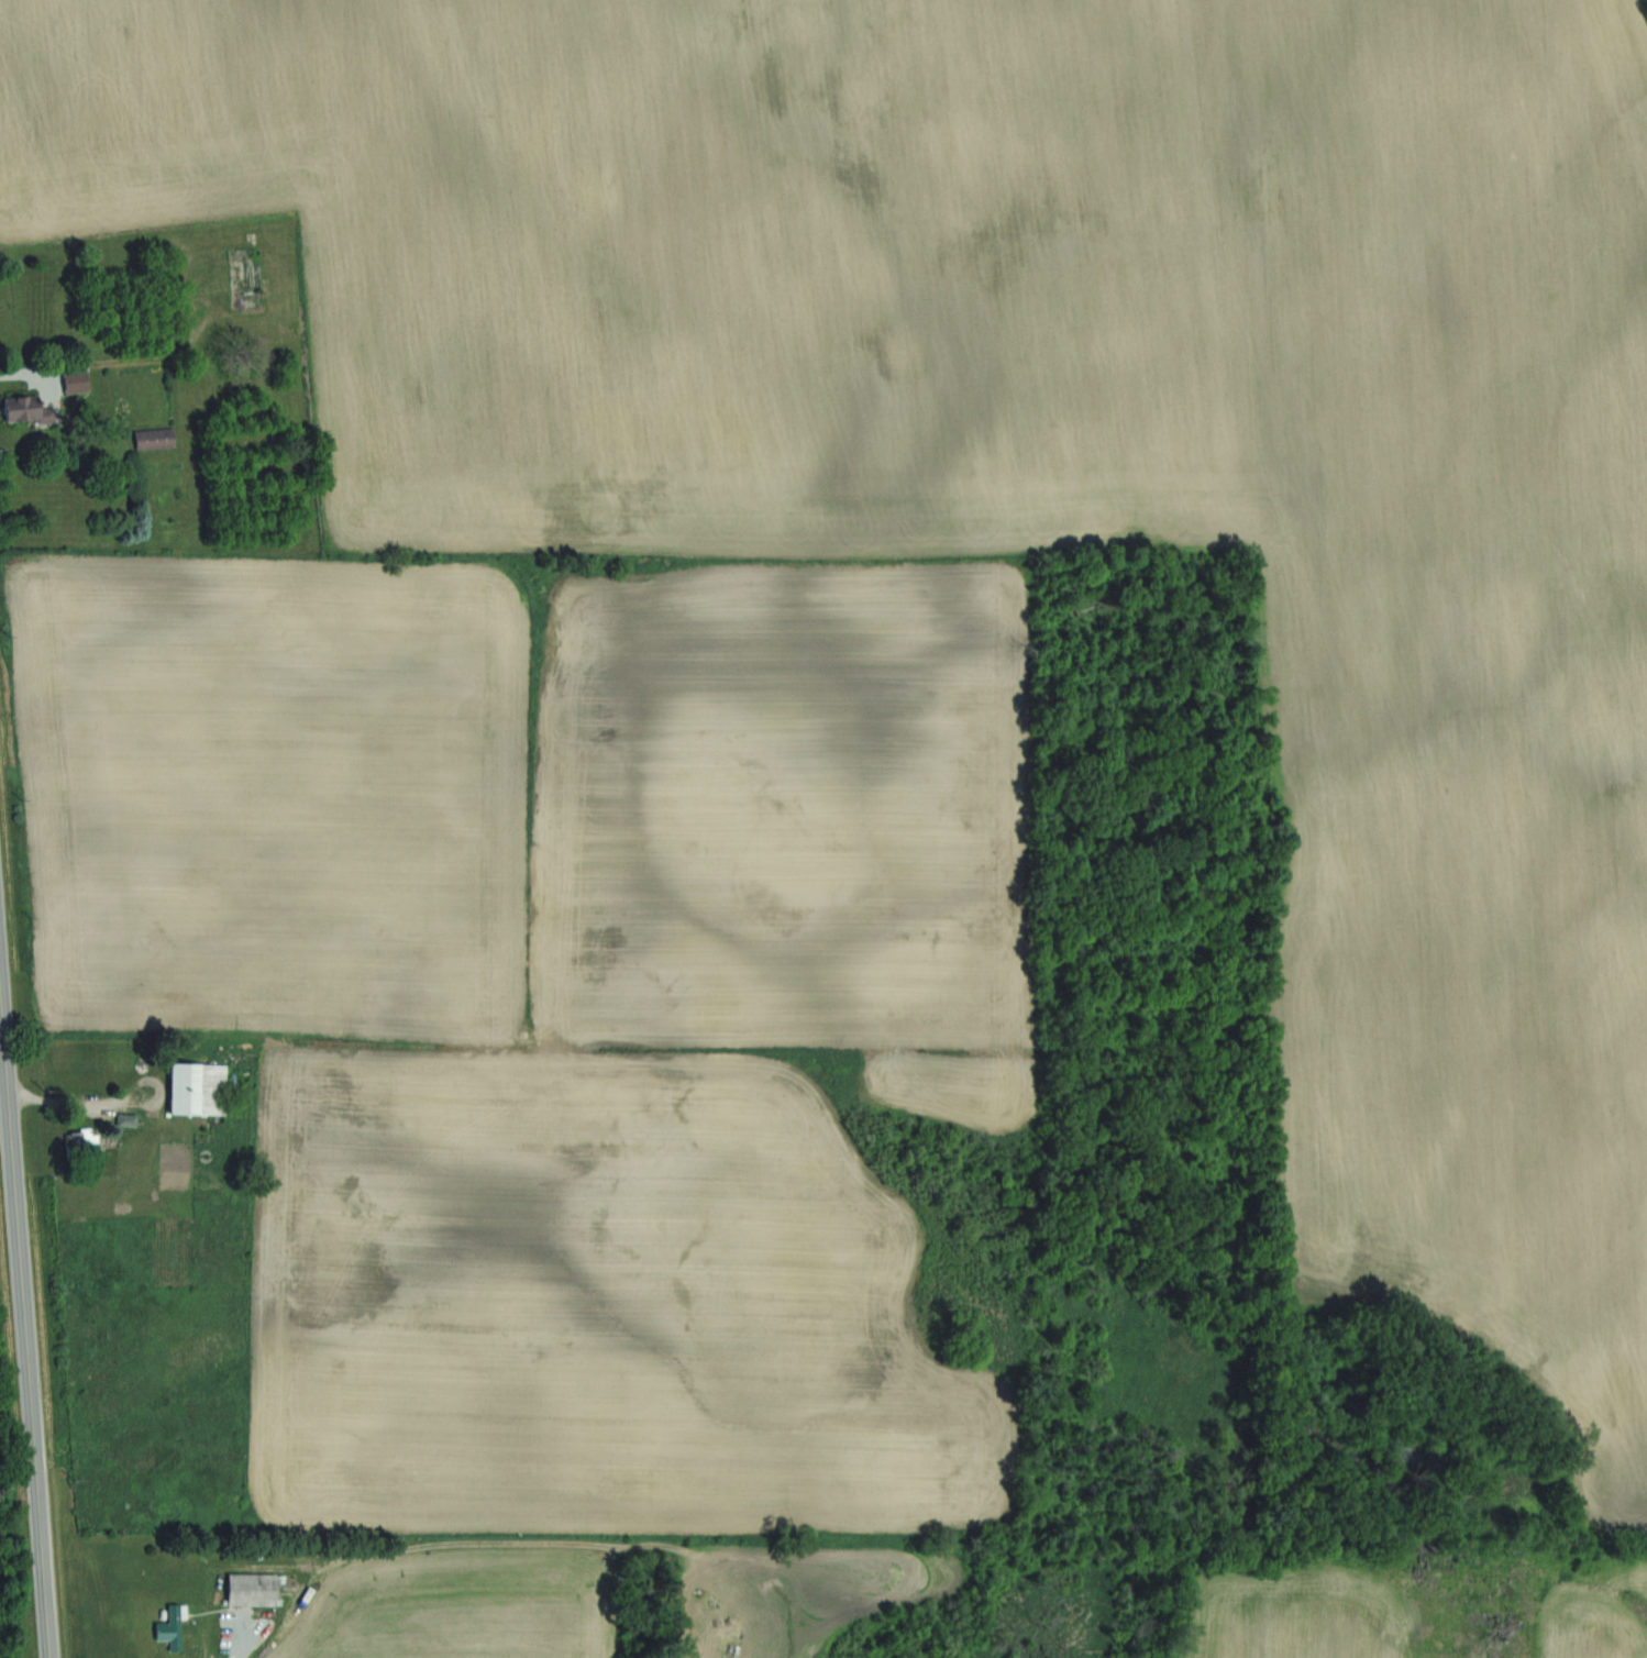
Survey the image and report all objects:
road: (22, 372)
building: (76, 379)
building: (27, 408)
building: (155, 438)
building: (199, 1088)
road: (73, 1101)
building: (128, 1118)
building: (85, 1141)
road: (26, 1305)
building: (253, 1589)
building: (173, 1627)
road: (235, 1636)

